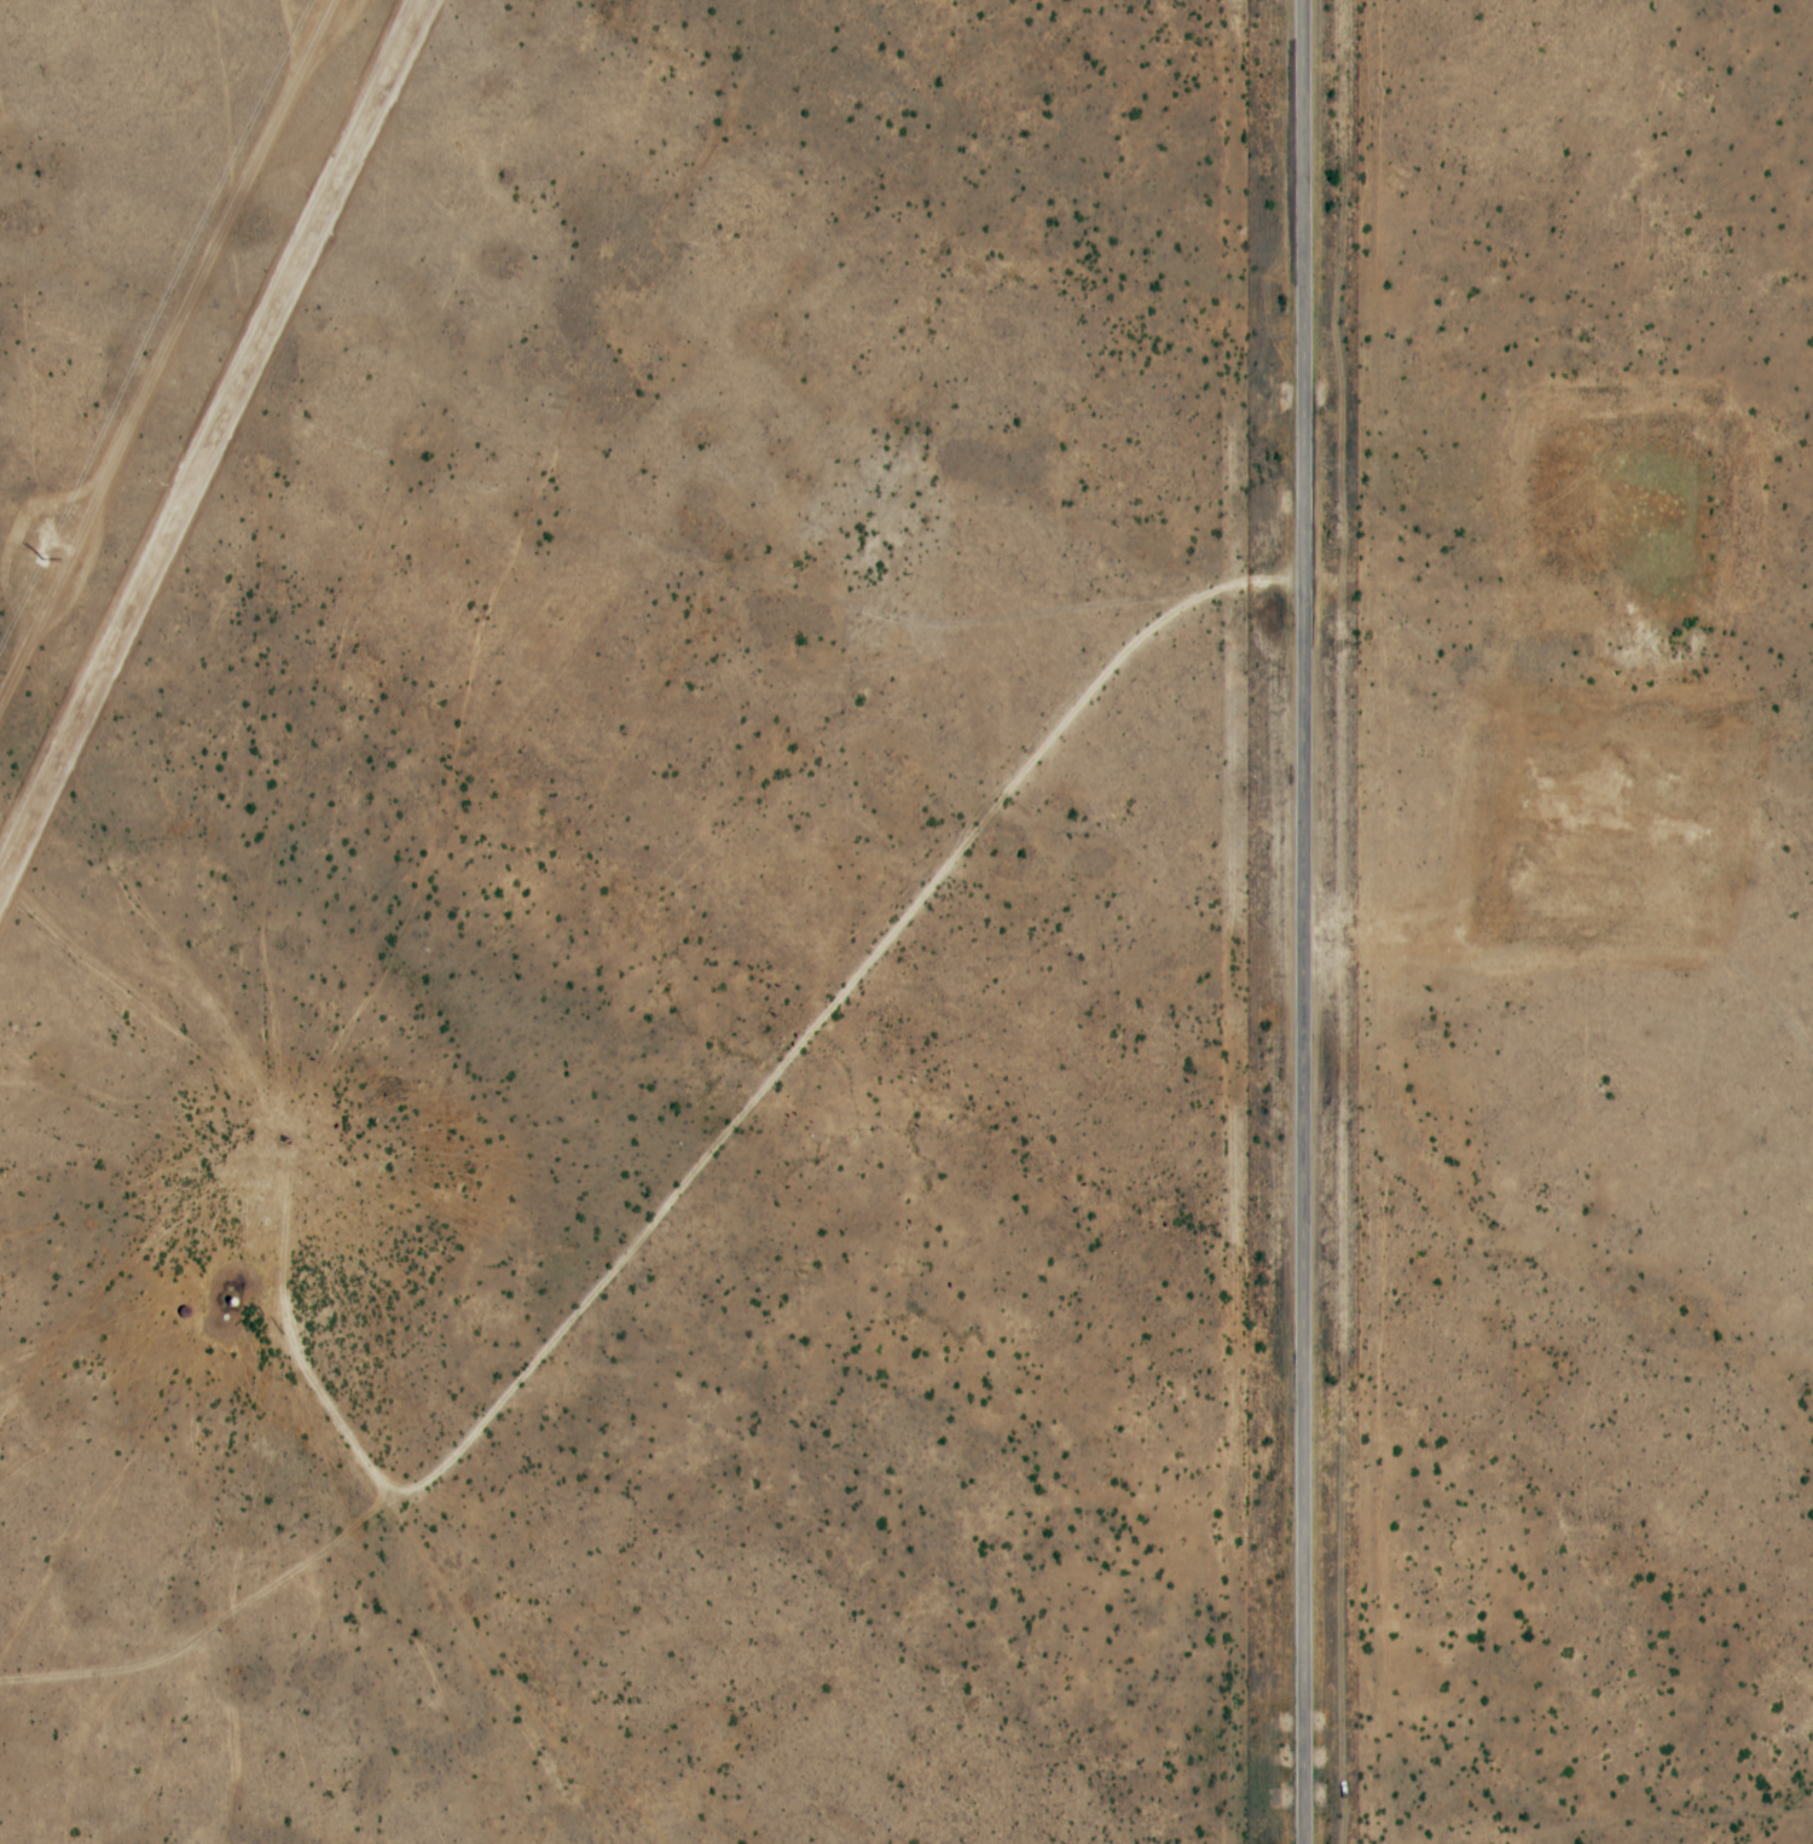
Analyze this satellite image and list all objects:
road: (1303, 922)

